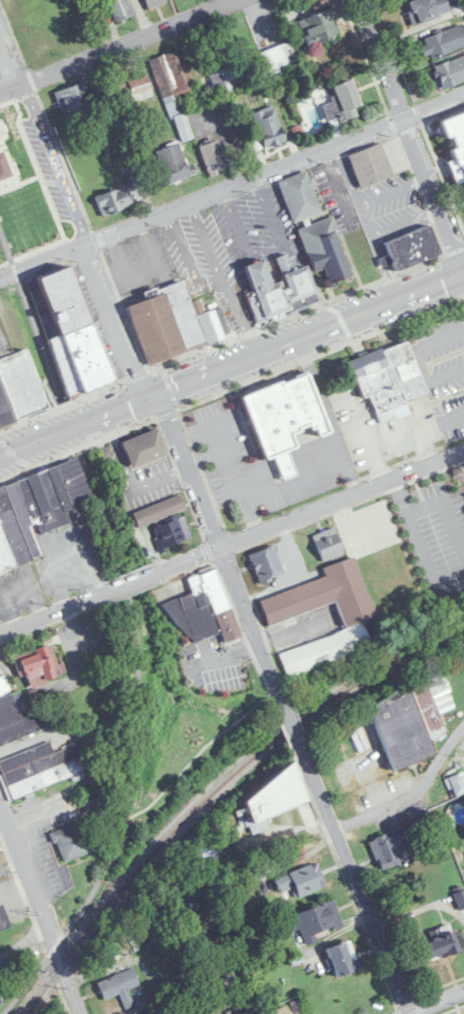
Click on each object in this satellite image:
building: (152, 2)
park: (186, 3)
building: (120, 8)
building: (426, 10)
building: (319, 28)
building: (443, 42)
road: (116, 47)
building: (279, 60)
building: (451, 73)
building: (220, 83)
building: (175, 89)
building: (135, 90)
building: (73, 99)
building: (346, 100)
road: (413, 126)
building: (268, 128)
building: (451, 145)
building: (213, 158)
building: (173, 165)
building: (370, 166)
road: (231, 185)
building: (11, 186)
building: (300, 197)
building: (113, 202)
road: (366, 202)
road: (72, 209)
road: (393, 229)
building: (411, 247)
building: (325, 249)
road: (120, 260)
road: (383, 268)
building: (281, 286)
road: (32, 313)
building: (170, 323)
building: (72, 333)
road: (232, 364)
road: (50, 375)
building: (386, 380)
building: (19, 386)
road: (316, 387)
building: (284, 421)
building: (143, 448)
road: (342, 454)
road: (267, 491)
road: (398, 497)
road: (312, 509)
building: (36, 510)
building: (158, 511)
road: (446, 512)
road: (248, 514)
building: (459, 516)
building: (431, 530)
building: (171, 531)
road: (220, 542)
building: (265, 563)
road: (426, 565)
building: (446, 565)
road: (128, 580)
building: (314, 600)
building: (204, 610)
road: (48, 612)
building: (39, 667)
building: (4, 686)
road: (272, 695)
building: (10, 708)
building: (408, 720)
building: (23, 726)
road: (294, 734)
road: (135, 749)
road: (191, 761)
building: (42, 765)
building: (457, 784)
railway: (217, 788)
road: (51, 794)
road: (412, 795)
building: (273, 796)
building: (92, 800)
road: (297, 834)
building: (70, 842)
building: (388, 848)
building: (1, 862)
building: (0, 868)
building: (300, 882)
road: (362, 895)
building: (459, 898)
road: (41, 908)
building: (3, 919)
building: (314, 921)
road: (24, 942)
building: (438, 946)
building: (342, 959)
building: (119, 987)
road: (437, 1003)
building: (280, 1011)
building: (249, 1013)

